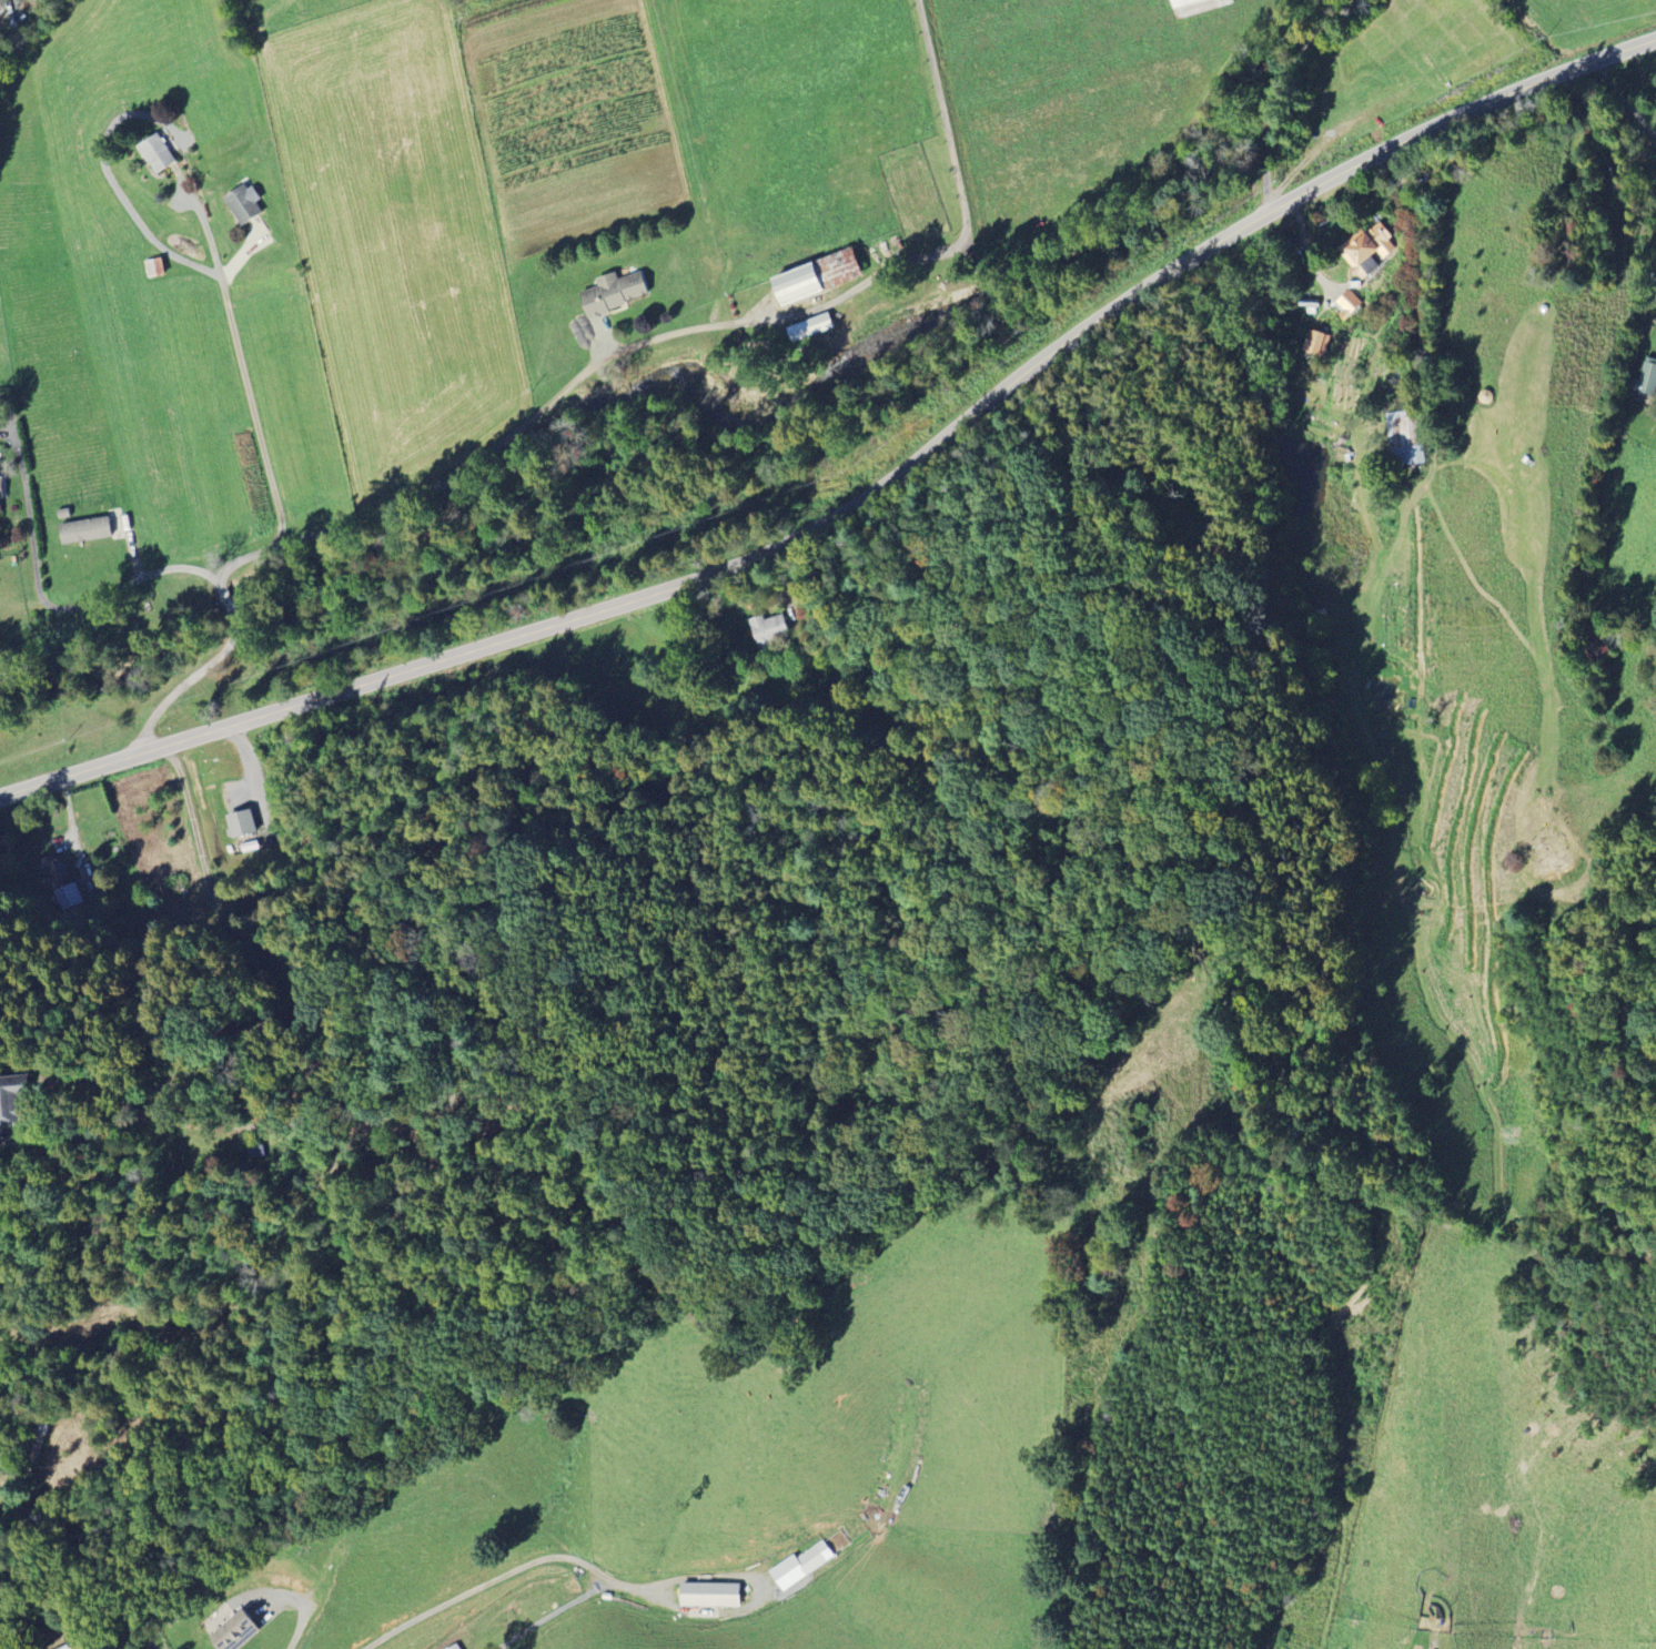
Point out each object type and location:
building: (1195, 6)
road: (1282, 90)
road: (946, 122)
building: (155, 153)
building: (243, 203)
park: (1566, 211)
building: (1367, 250)
building: (154, 267)
building: (815, 276)
building: (612, 293)
building: (1347, 304)
building: (809, 327)
building: (1314, 347)
road: (610, 361)
building: (1646, 378)
road: (249, 383)
road: (867, 497)
building: (0, 507)
building: (83, 530)
road: (243, 560)
road: (229, 604)
building: (769, 629)
road: (190, 682)
building: (240, 823)
building: (60, 883)
building: (11, 1102)
building: (796, 1568)
building: (708, 1596)
road: (304, 1610)
building: (233, 1632)
building: (453, 1647)

